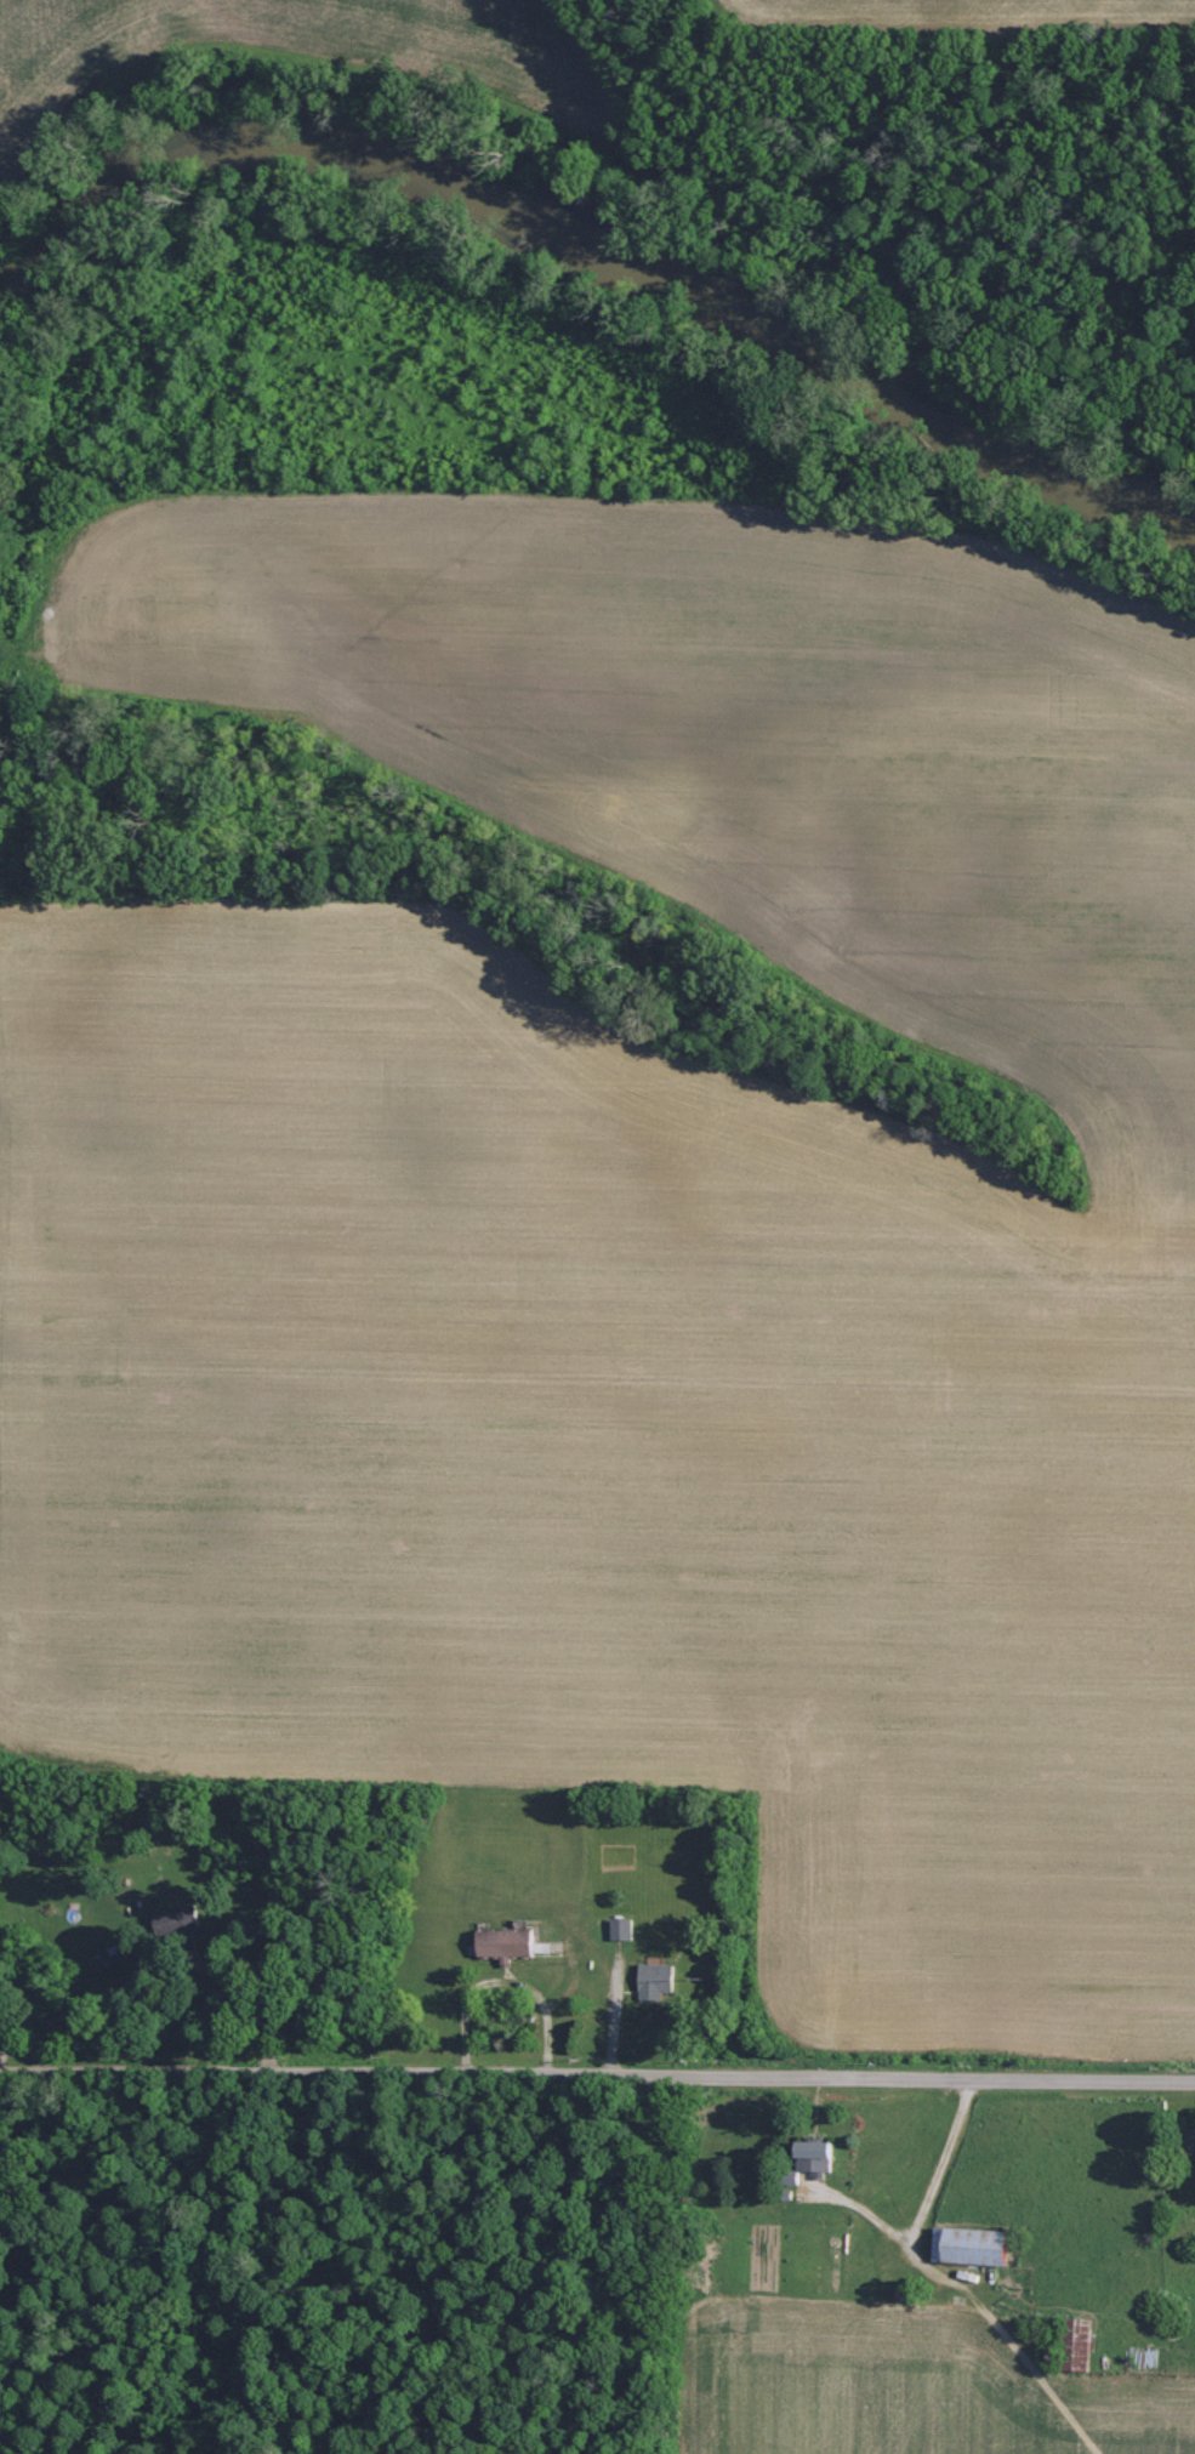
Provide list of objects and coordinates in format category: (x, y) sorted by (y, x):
building: (176, 1919)
building: (620, 1928)
building: (506, 1943)
building: (655, 1980)
road: (597, 2074)
building: (816, 2156)
road: (921, 2205)
building: (971, 2245)

